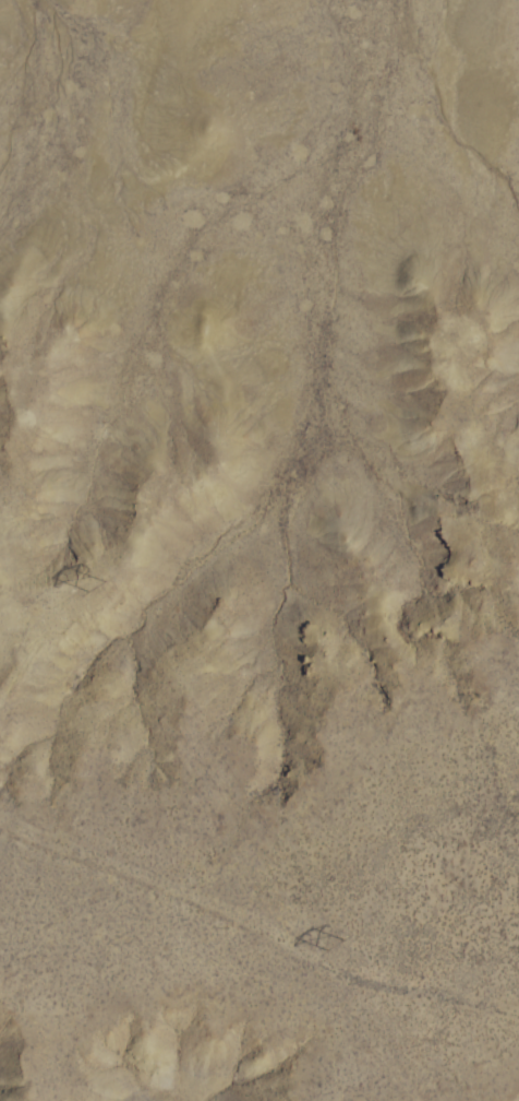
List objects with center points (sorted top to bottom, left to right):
power tower: (97, 583)
power tower: (338, 943)

